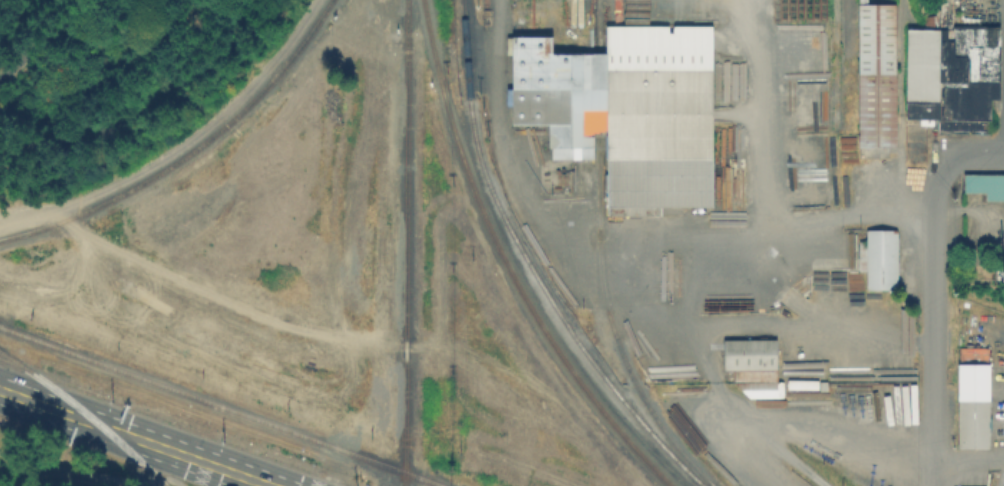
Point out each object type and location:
road: (48, 37)
building: (951, 75)
park: (109, 77)
building: (879, 77)
building: (628, 111)
road: (180, 144)
railway: (188, 151)
road: (961, 159)
building: (985, 191)
road: (819, 219)
railway: (405, 235)
railway: (598, 259)
building: (886, 260)
railway: (507, 264)
railway: (531, 266)
building: (998, 268)
road: (636, 272)
road: (236, 305)
road: (763, 327)
road: (934, 338)
building: (755, 367)
railway: (223, 406)
railway: (86, 413)
building: (977, 425)
road: (808, 427)
road: (136, 438)
road: (91, 475)
railway: (403, 478)

